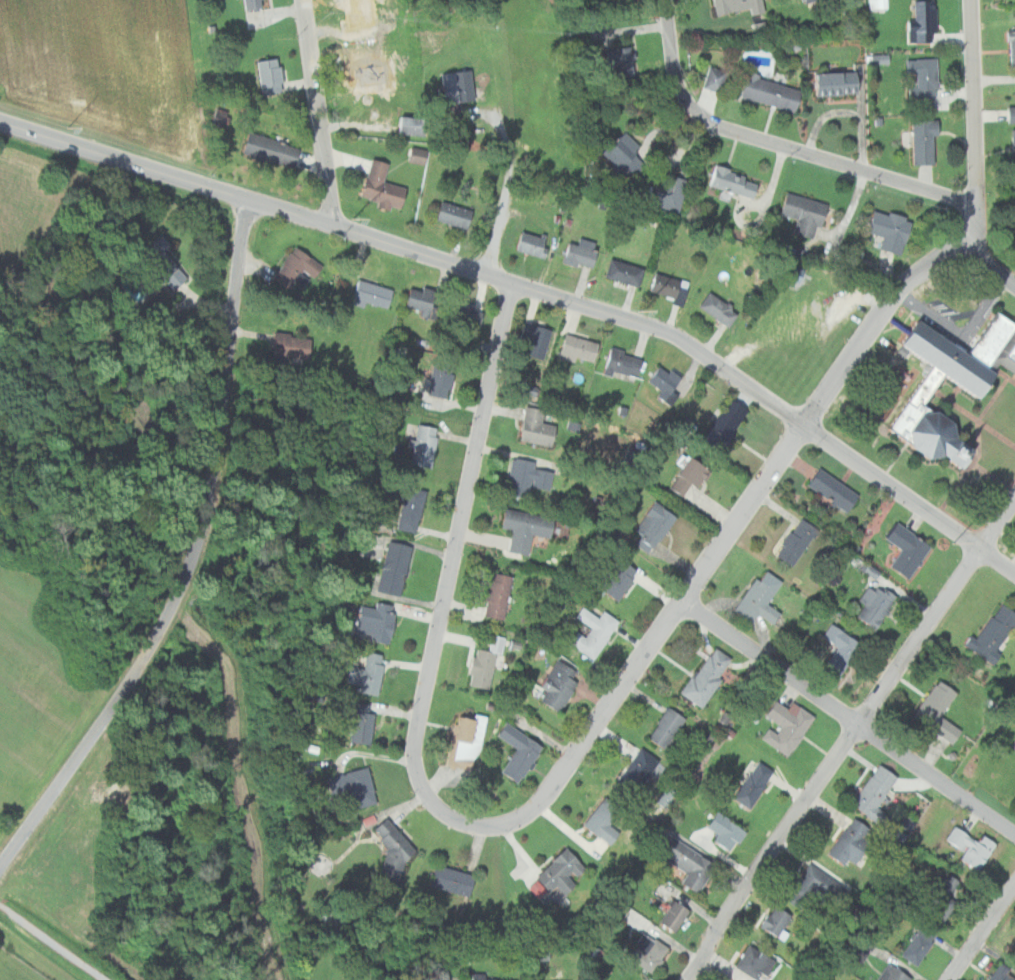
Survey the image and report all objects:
building: (256, 4)
building: (877, 4)
building: (735, 6)
building: (919, 21)
building: (1010, 47)
building: (876, 58)
building: (616, 61)
building: (273, 75)
building: (919, 77)
building: (711, 78)
building: (829, 82)
building: (451, 91)
building: (766, 91)
road: (319, 113)
building: (1009, 113)
building: (223, 117)
road: (973, 122)
building: (414, 124)
power tower: (68, 128)
building: (920, 141)
building: (1012, 144)
road: (776, 145)
building: (619, 146)
building: (275, 149)
building: (421, 154)
building: (728, 181)
building: (674, 182)
building: (381, 185)
building: (663, 199)
building: (799, 212)
building: (453, 213)
power tower: (352, 219)
building: (884, 229)
building: (532, 243)
building: (163, 244)
building: (580, 252)
building: (299, 268)
road: (991, 269)
building: (624, 271)
building: (176, 273)
building: (664, 284)
building: (371, 292)
road: (535, 292)
building: (421, 302)
building: (718, 308)
power tower: (642, 311)
building: (463, 314)
building: (535, 338)
building: (295, 345)
building: (577, 347)
building: (924, 349)
building: (621, 362)
building: (441, 376)
building: (664, 379)
building: (926, 379)
building: (527, 388)
building: (727, 422)
building: (532, 428)
building: (423, 445)
building: (688, 474)
building: (524, 477)
building: (833, 488)
road: (464, 496)
building: (411, 508)
building: (653, 526)
building: (520, 528)
road: (731, 530)
building: (797, 541)
power tower: (957, 542)
building: (907, 549)
road: (191, 558)
building: (394, 567)
building: (613, 578)
building: (492, 594)
building: (759, 598)
building: (875, 604)
building: (376, 620)
building: (591, 631)
building: (992, 634)
building: (840, 647)
building: (479, 667)
building: (367, 673)
building: (706, 677)
building: (554, 686)
building: (938, 711)
road: (848, 717)
building: (360, 722)
building: (787, 725)
building: (666, 727)
building: (465, 736)
road: (846, 736)
building: (515, 751)
building: (635, 770)
building: (754, 784)
building: (355, 786)
building: (875, 794)
building: (598, 827)
building: (726, 830)
building: (852, 841)
building: (972, 847)
building: (389, 852)
building: (686, 862)
building: (557, 871)
building: (451, 879)
building: (804, 889)
building: (941, 899)
building: (674, 915)
building: (776, 920)
road: (981, 931)
road: (53, 943)
building: (918, 946)
building: (647, 953)
building: (854, 953)
building: (755, 962)
building: (893, 973)
building: (1002, 973)
building: (484, 976)

